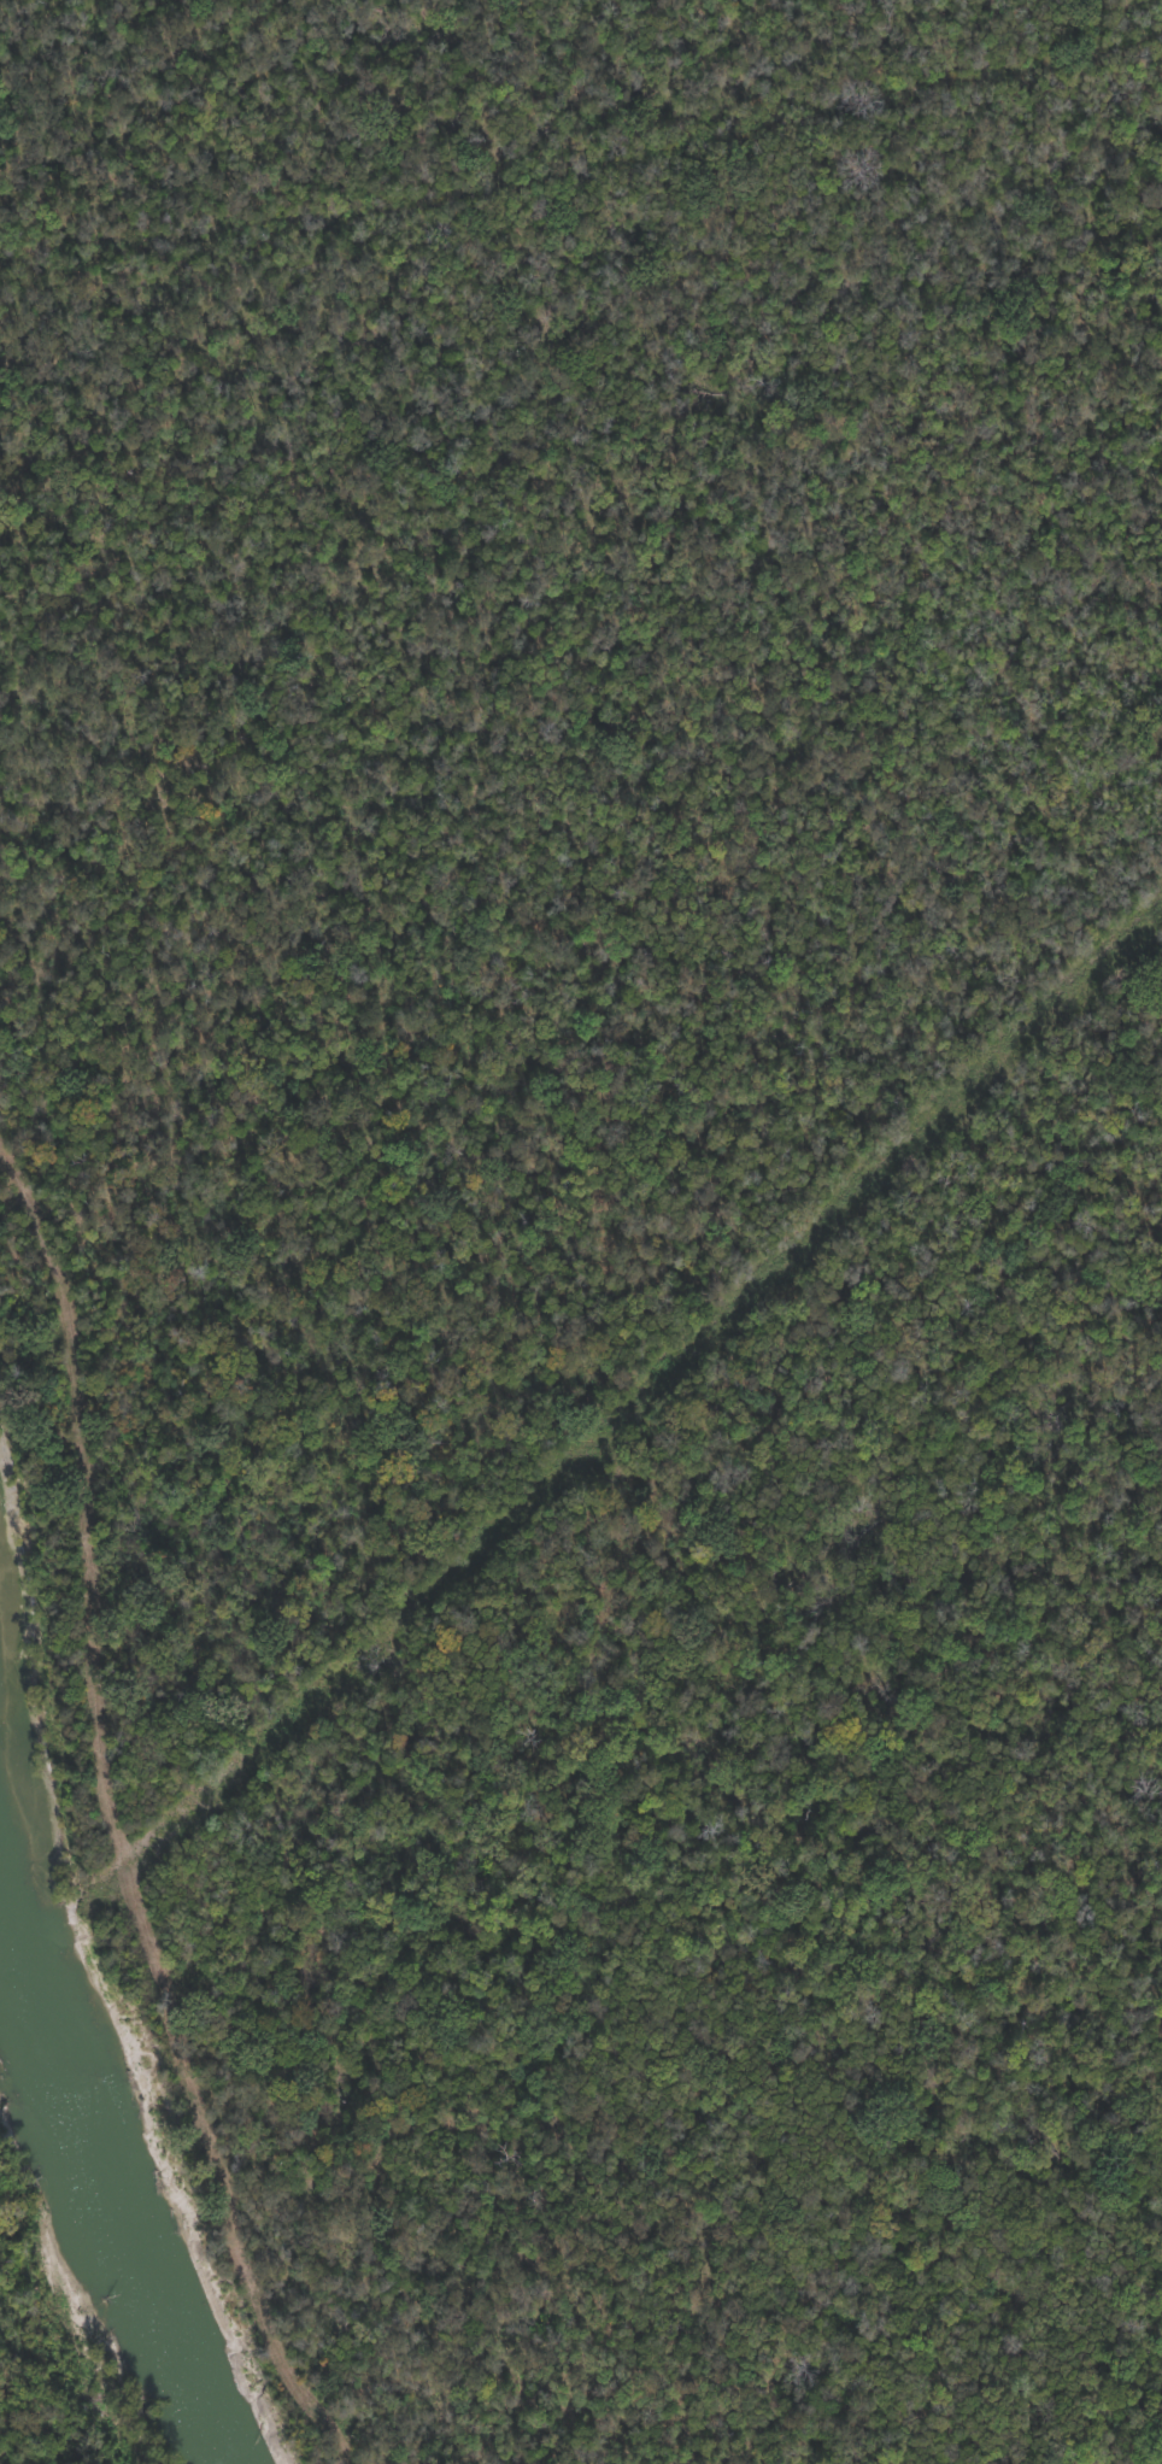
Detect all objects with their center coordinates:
river: (68, 1999)

